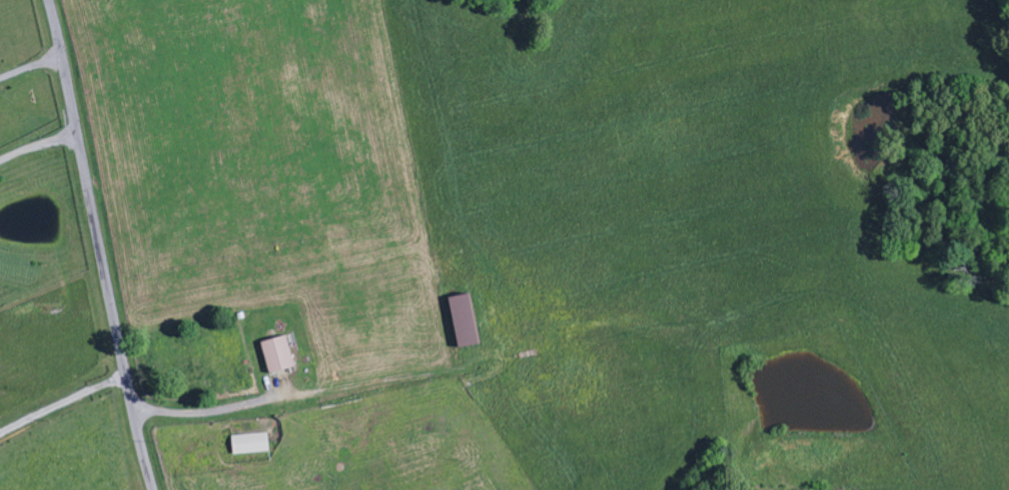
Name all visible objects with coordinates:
road: (100, 245)
building: (468, 321)
building: (281, 355)
building: (253, 444)

